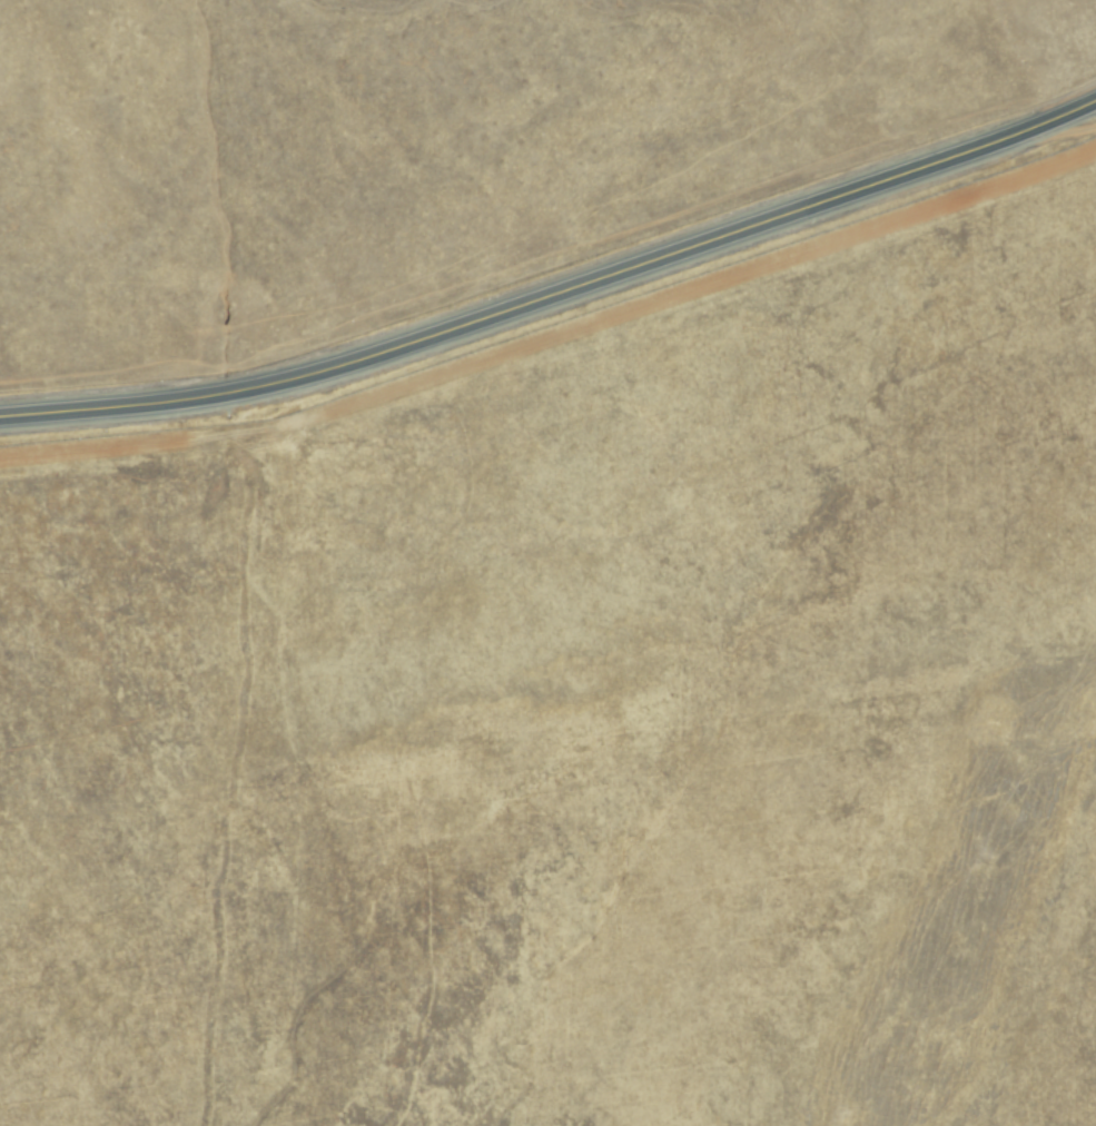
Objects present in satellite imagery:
road: (554, 281)
airport: (584, 702)

